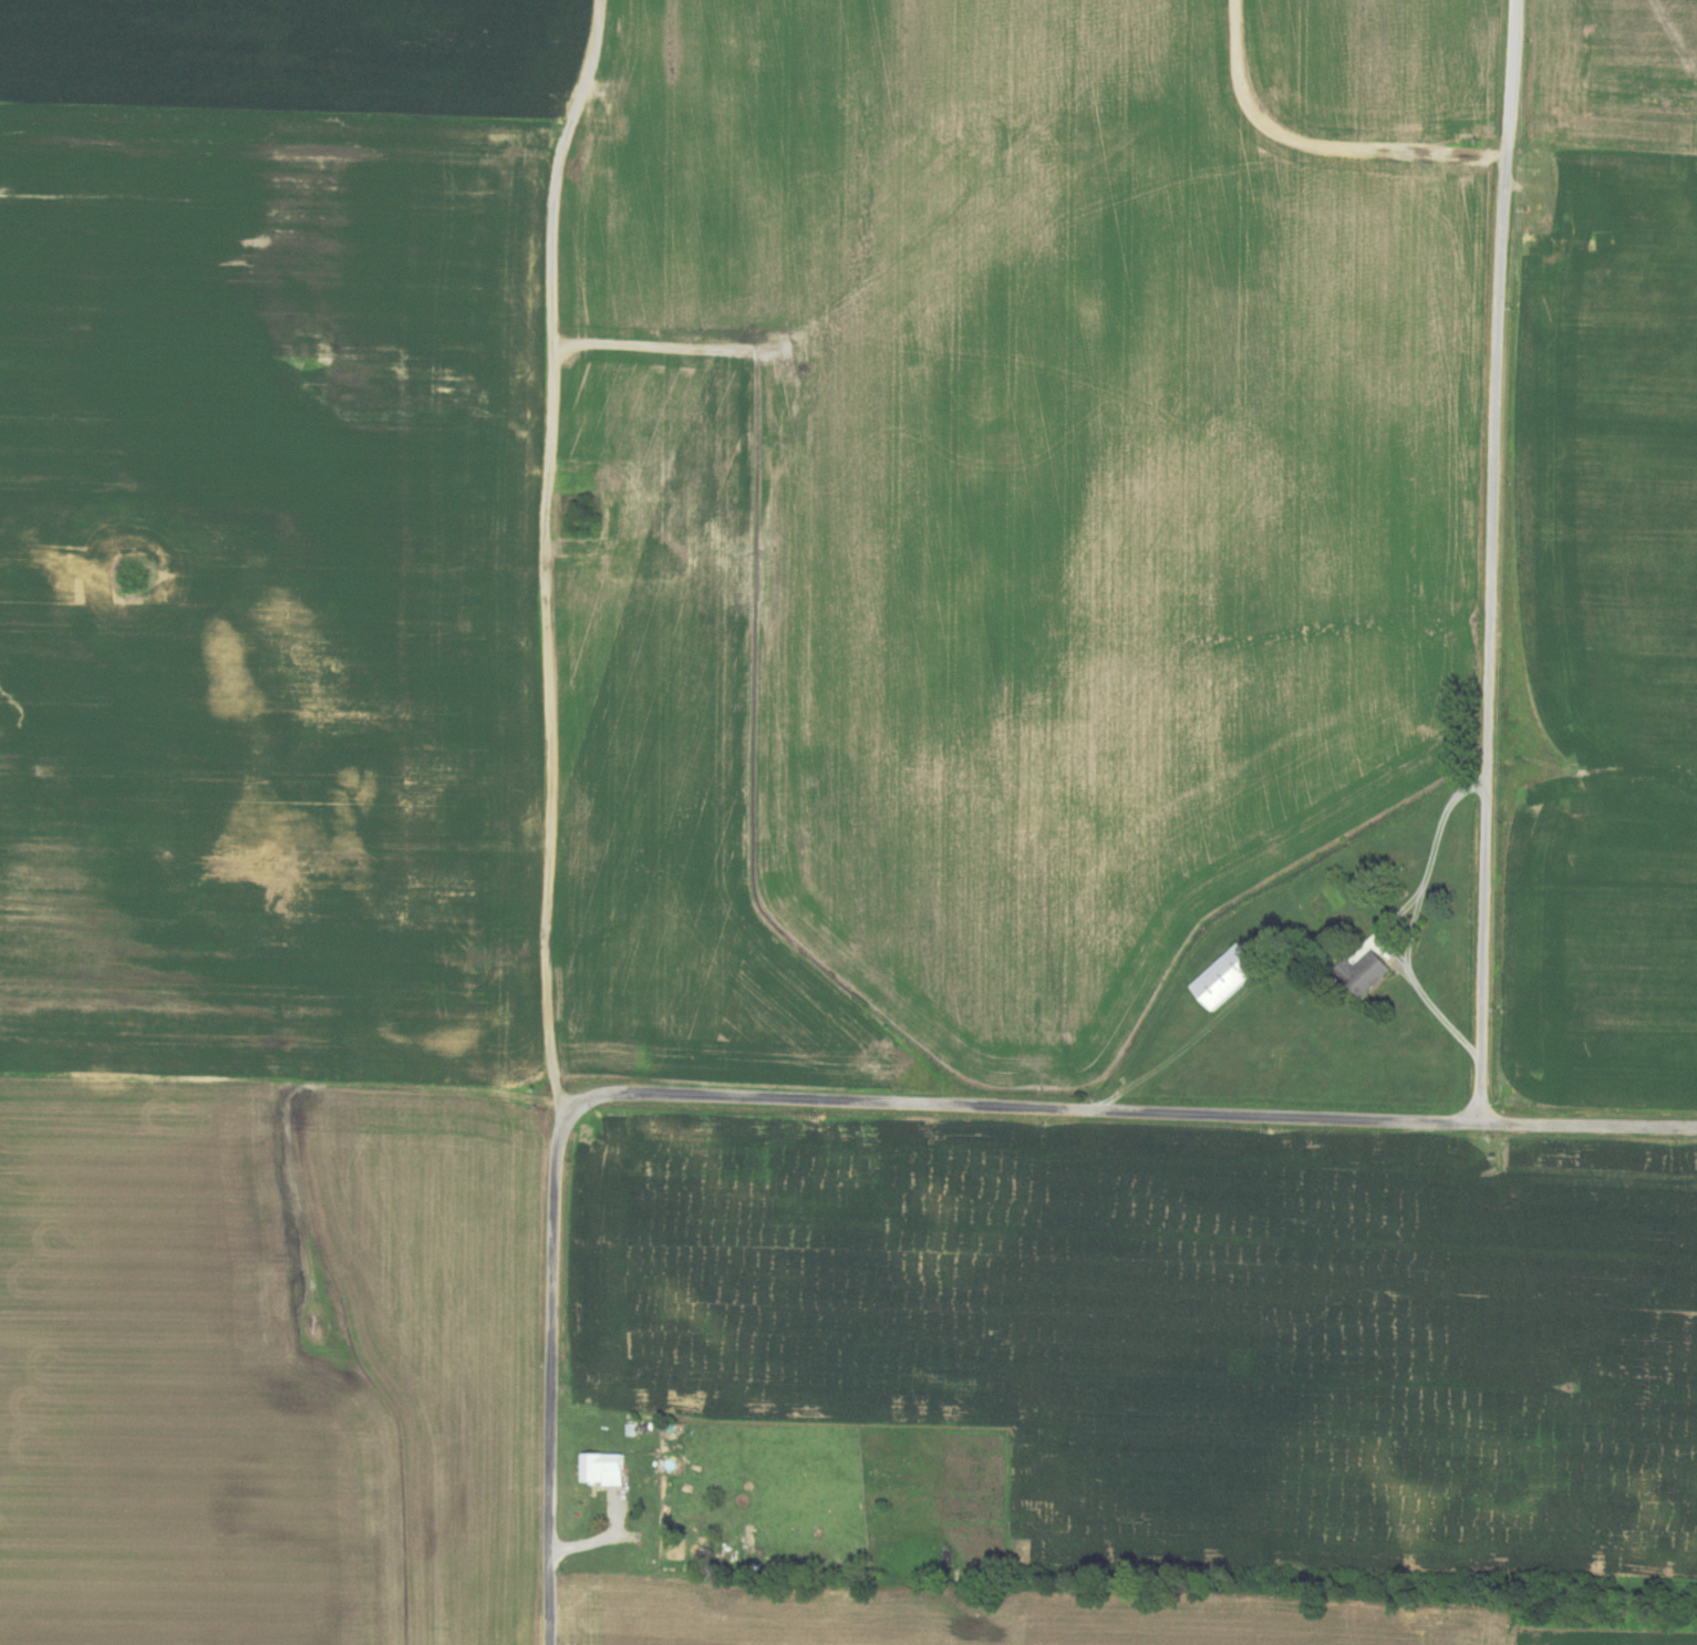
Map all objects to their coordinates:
road: (1324, 148)
road: (669, 342)
road: (547, 556)
road: (1492, 561)
road: (1316, 958)
building: (1370, 972)
building: (1229, 976)
road: (1424, 991)
road: (321, 1085)
road: (1128, 1110)
petroleum well: (314, 1328)
road: (552, 1379)
building: (592, 1414)
building: (635, 1430)
building: (607, 1470)

